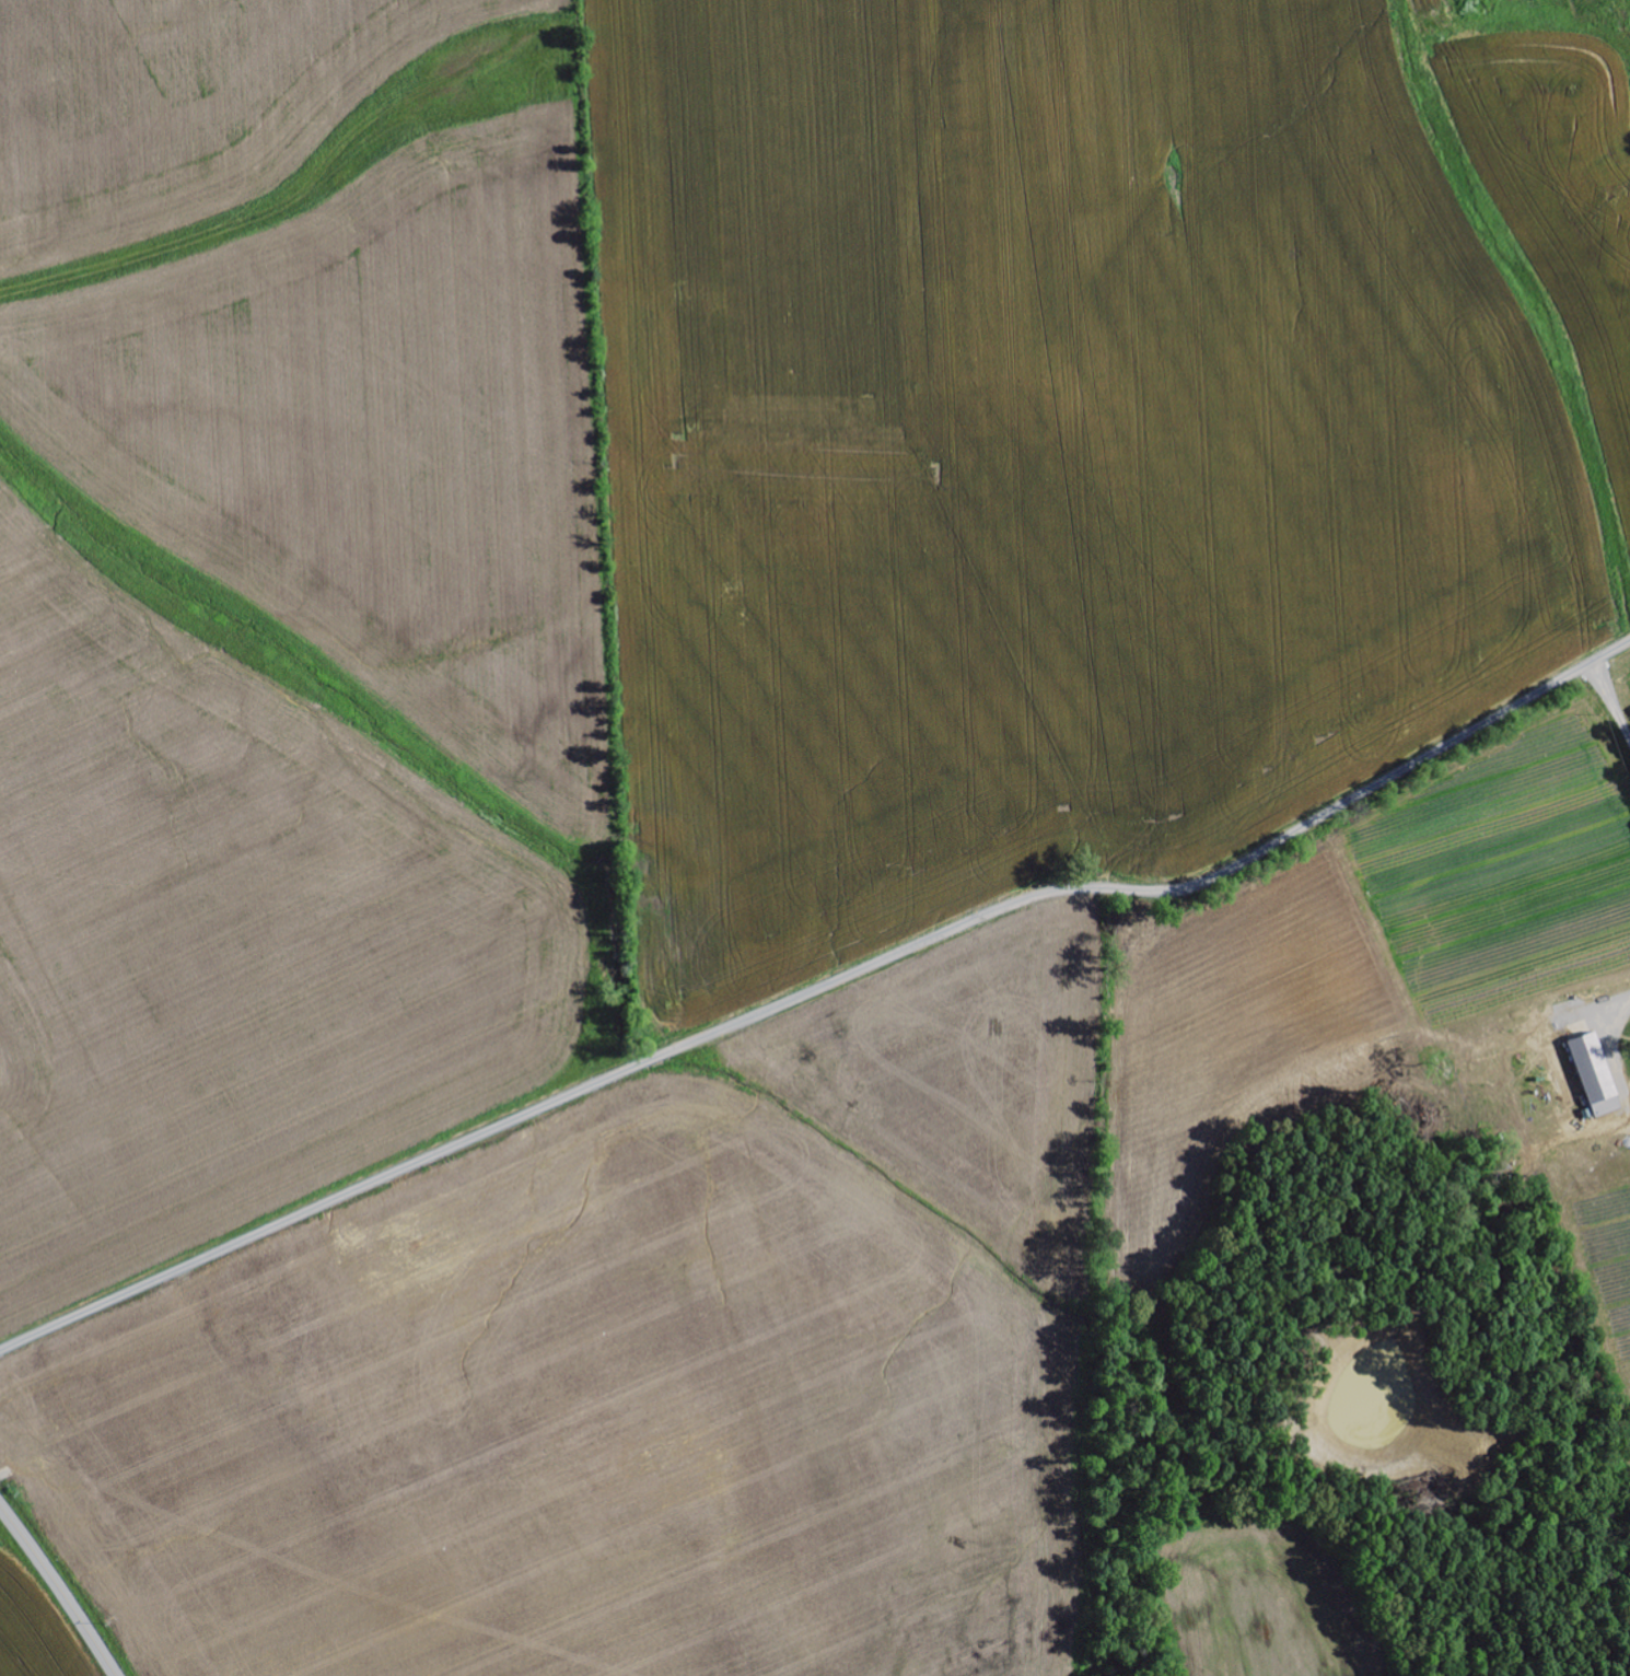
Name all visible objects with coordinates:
road: (817, 987)
building: (1594, 1075)
road: (59, 1590)

